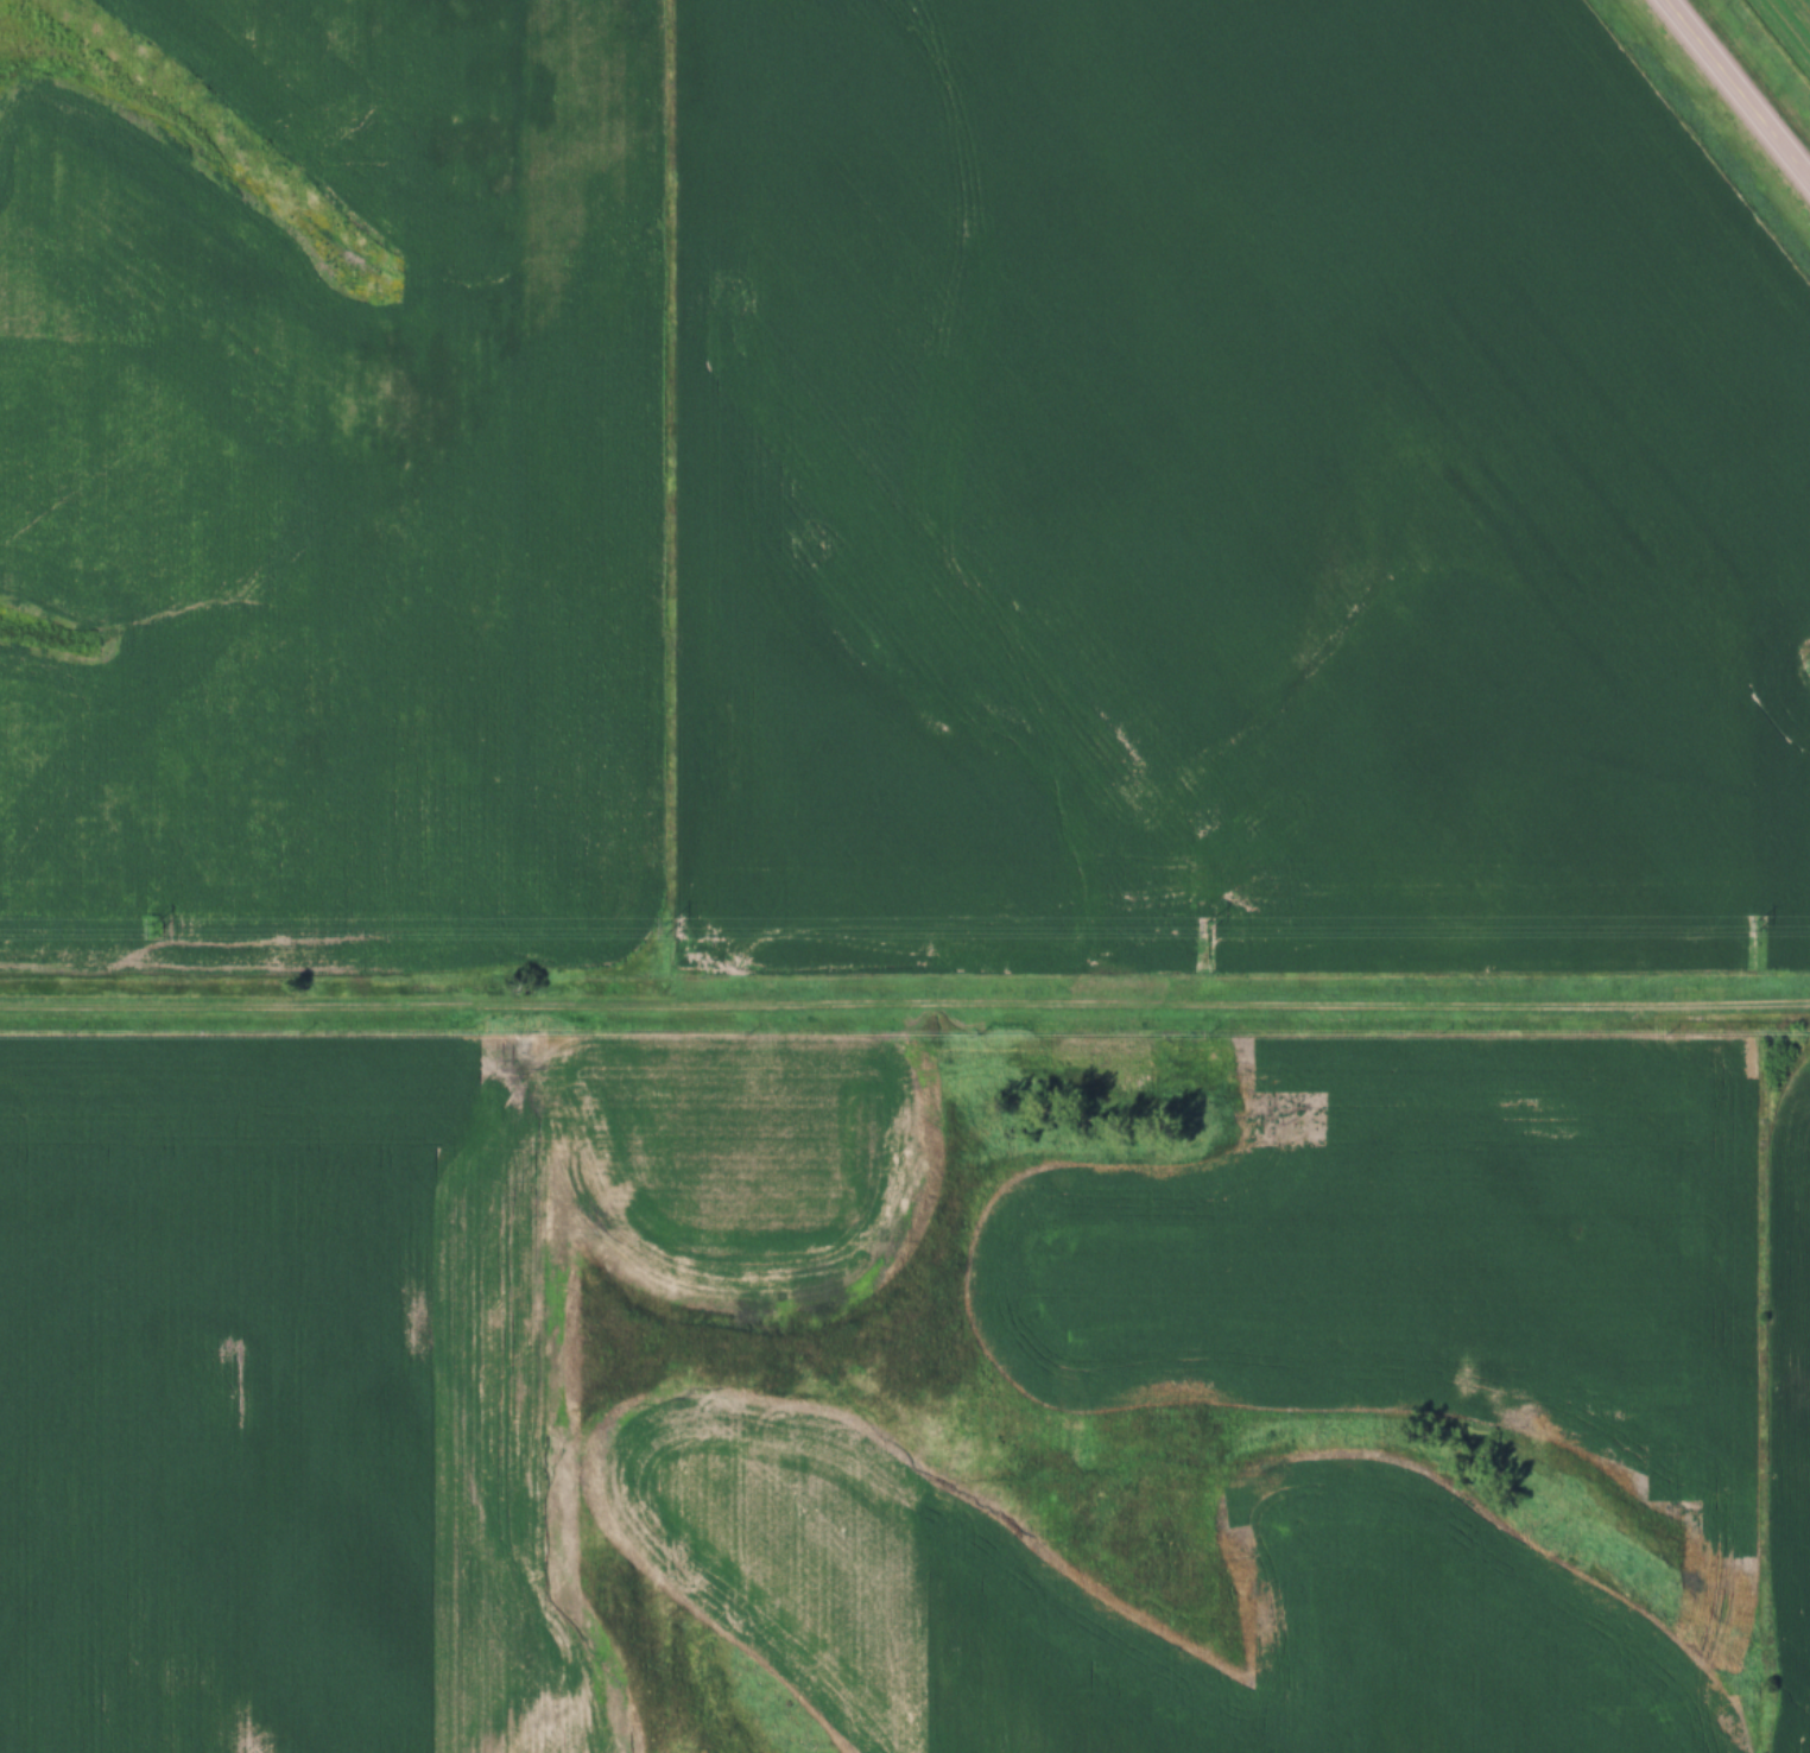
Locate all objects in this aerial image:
road: (1739, 88)
power tower: (1758, 926)
power tower: (665, 929)
power tower: (1207, 929)
power tower: (157, 930)
road: (905, 1007)

